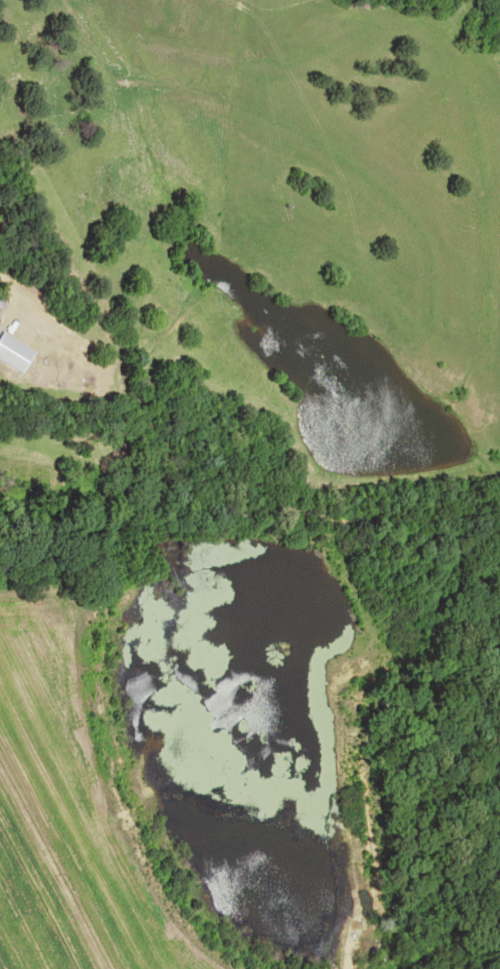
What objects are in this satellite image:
building: (0, 300)
building: (11, 353)

